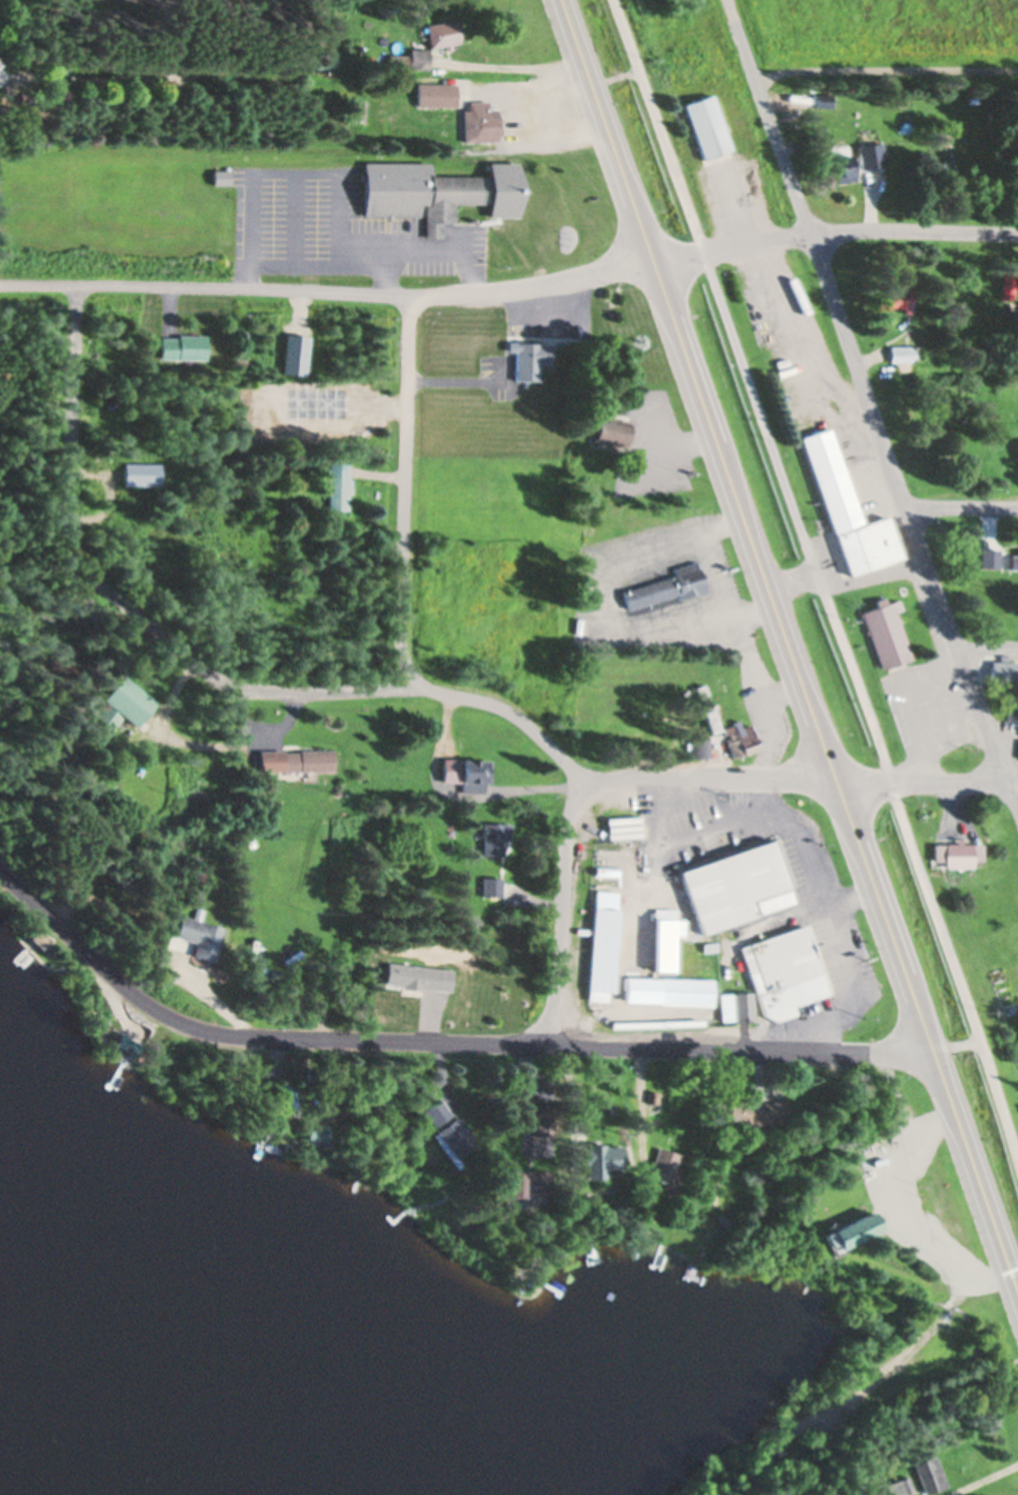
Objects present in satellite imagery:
building: (385, 7)
building: (444, 31)
building: (419, 57)
building: (399, 60)
road: (886, 69)
building: (437, 93)
building: (824, 101)
building: (359, 110)
building: (481, 121)
building: (707, 125)
building: (951, 150)
building: (872, 153)
building: (947, 166)
building: (845, 170)
building: (223, 174)
building: (237, 178)
building: (420, 189)
road: (833, 229)
building: (1007, 282)
road: (326, 291)
building: (899, 295)
building: (184, 344)
building: (936, 350)
building: (904, 355)
building: (530, 358)
road: (864, 391)
building: (611, 428)
building: (965, 448)
building: (1017, 452)
building: (339, 483)
road: (961, 507)
building: (849, 508)
building: (990, 557)
building: (1014, 559)
building: (669, 585)
road: (817, 586)
road: (118, 588)
road: (407, 595)
building: (886, 632)
road: (988, 646)
road: (789, 652)
building: (1002, 667)
building: (121, 700)
building: (708, 706)
building: (1013, 707)
building: (703, 729)
building: (741, 739)
building: (128, 745)
building: (699, 746)
building: (294, 758)
building: (466, 771)
road: (665, 790)
road: (1012, 799)
building: (492, 835)
building: (247, 841)
building: (955, 850)
building: (734, 883)
building: (490, 885)
building: (196, 935)
building: (39, 936)
building: (663, 937)
building: (600, 943)
building: (707, 945)
building: (781, 969)
building: (415, 975)
building: (666, 989)
building: (733, 1004)
building: (654, 1021)
building: (128, 1042)
road: (436, 1045)
building: (284, 1095)
building: (650, 1097)
building: (434, 1110)
building: (752, 1110)
building: (539, 1118)
building: (316, 1129)
building: (455, 1135)
building: (593, 1156)
building: (662, 1165)
building: (525, 1180)
building: (850, 1227)
building: (534, 1284)
building: (926, 1473)
building: (896, 1485)

